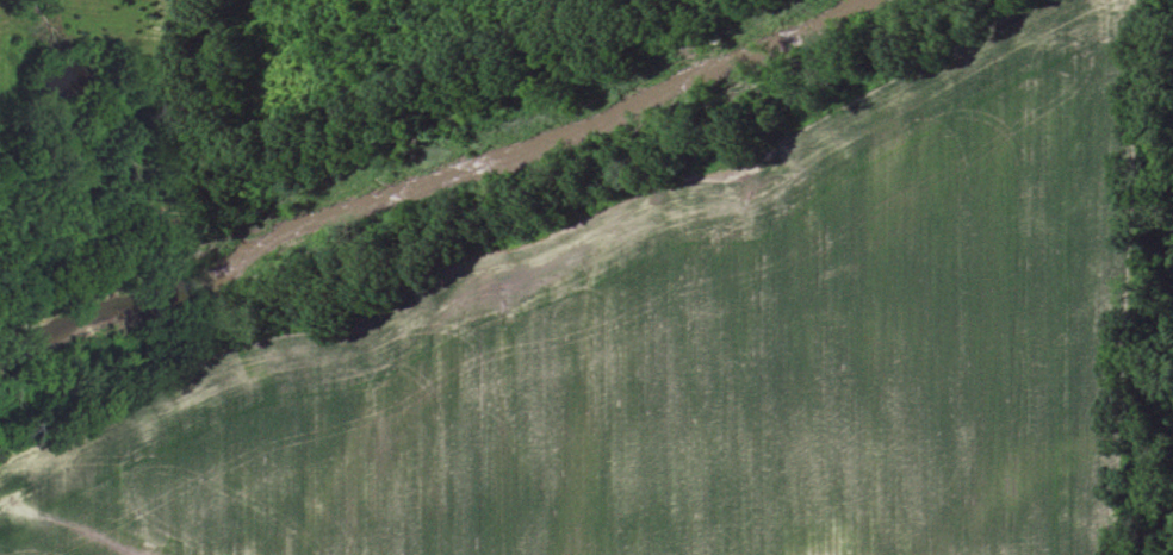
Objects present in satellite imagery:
river: (424, 183)
crop: (687, 348)

